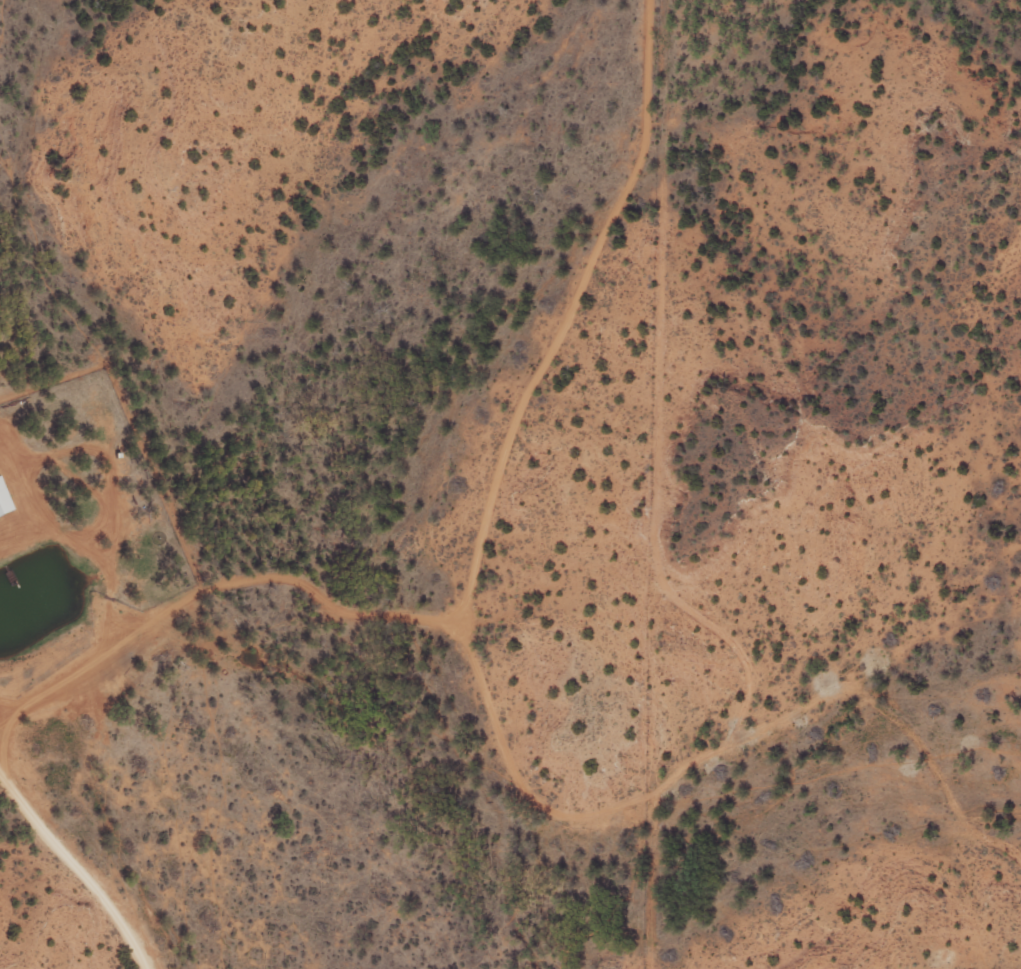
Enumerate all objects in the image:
building: (2, 502)

